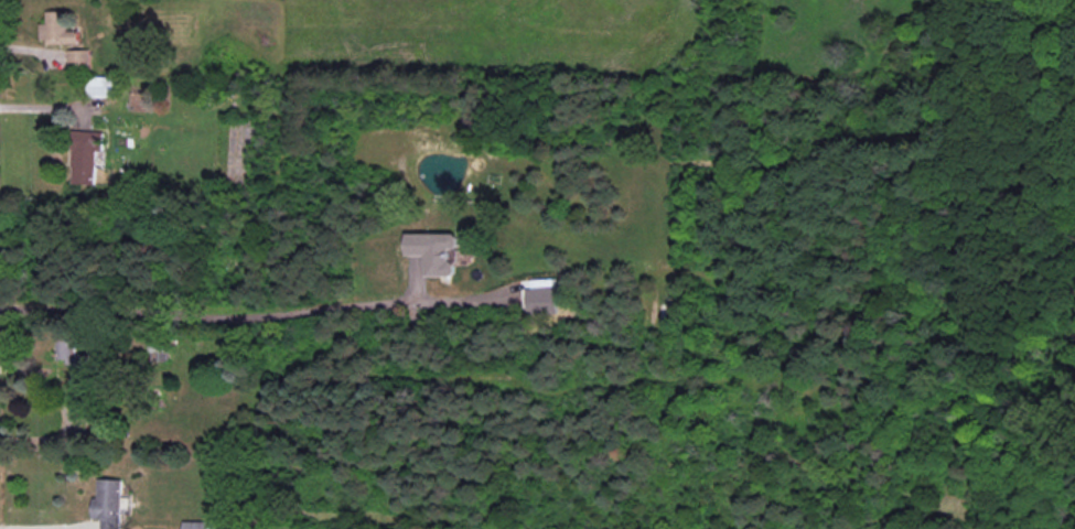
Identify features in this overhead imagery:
building: (57, 29)
building: (78, 58)
building: (103, 86)
building: (86, 155)
building: (434, 251)
road: (207, 325)
building: (159, 352)
building: (75, 361)
building: (80, 400)
road: (64, 411)
building: (109, 504)
building: (196, 525)
road: (47, 528)

